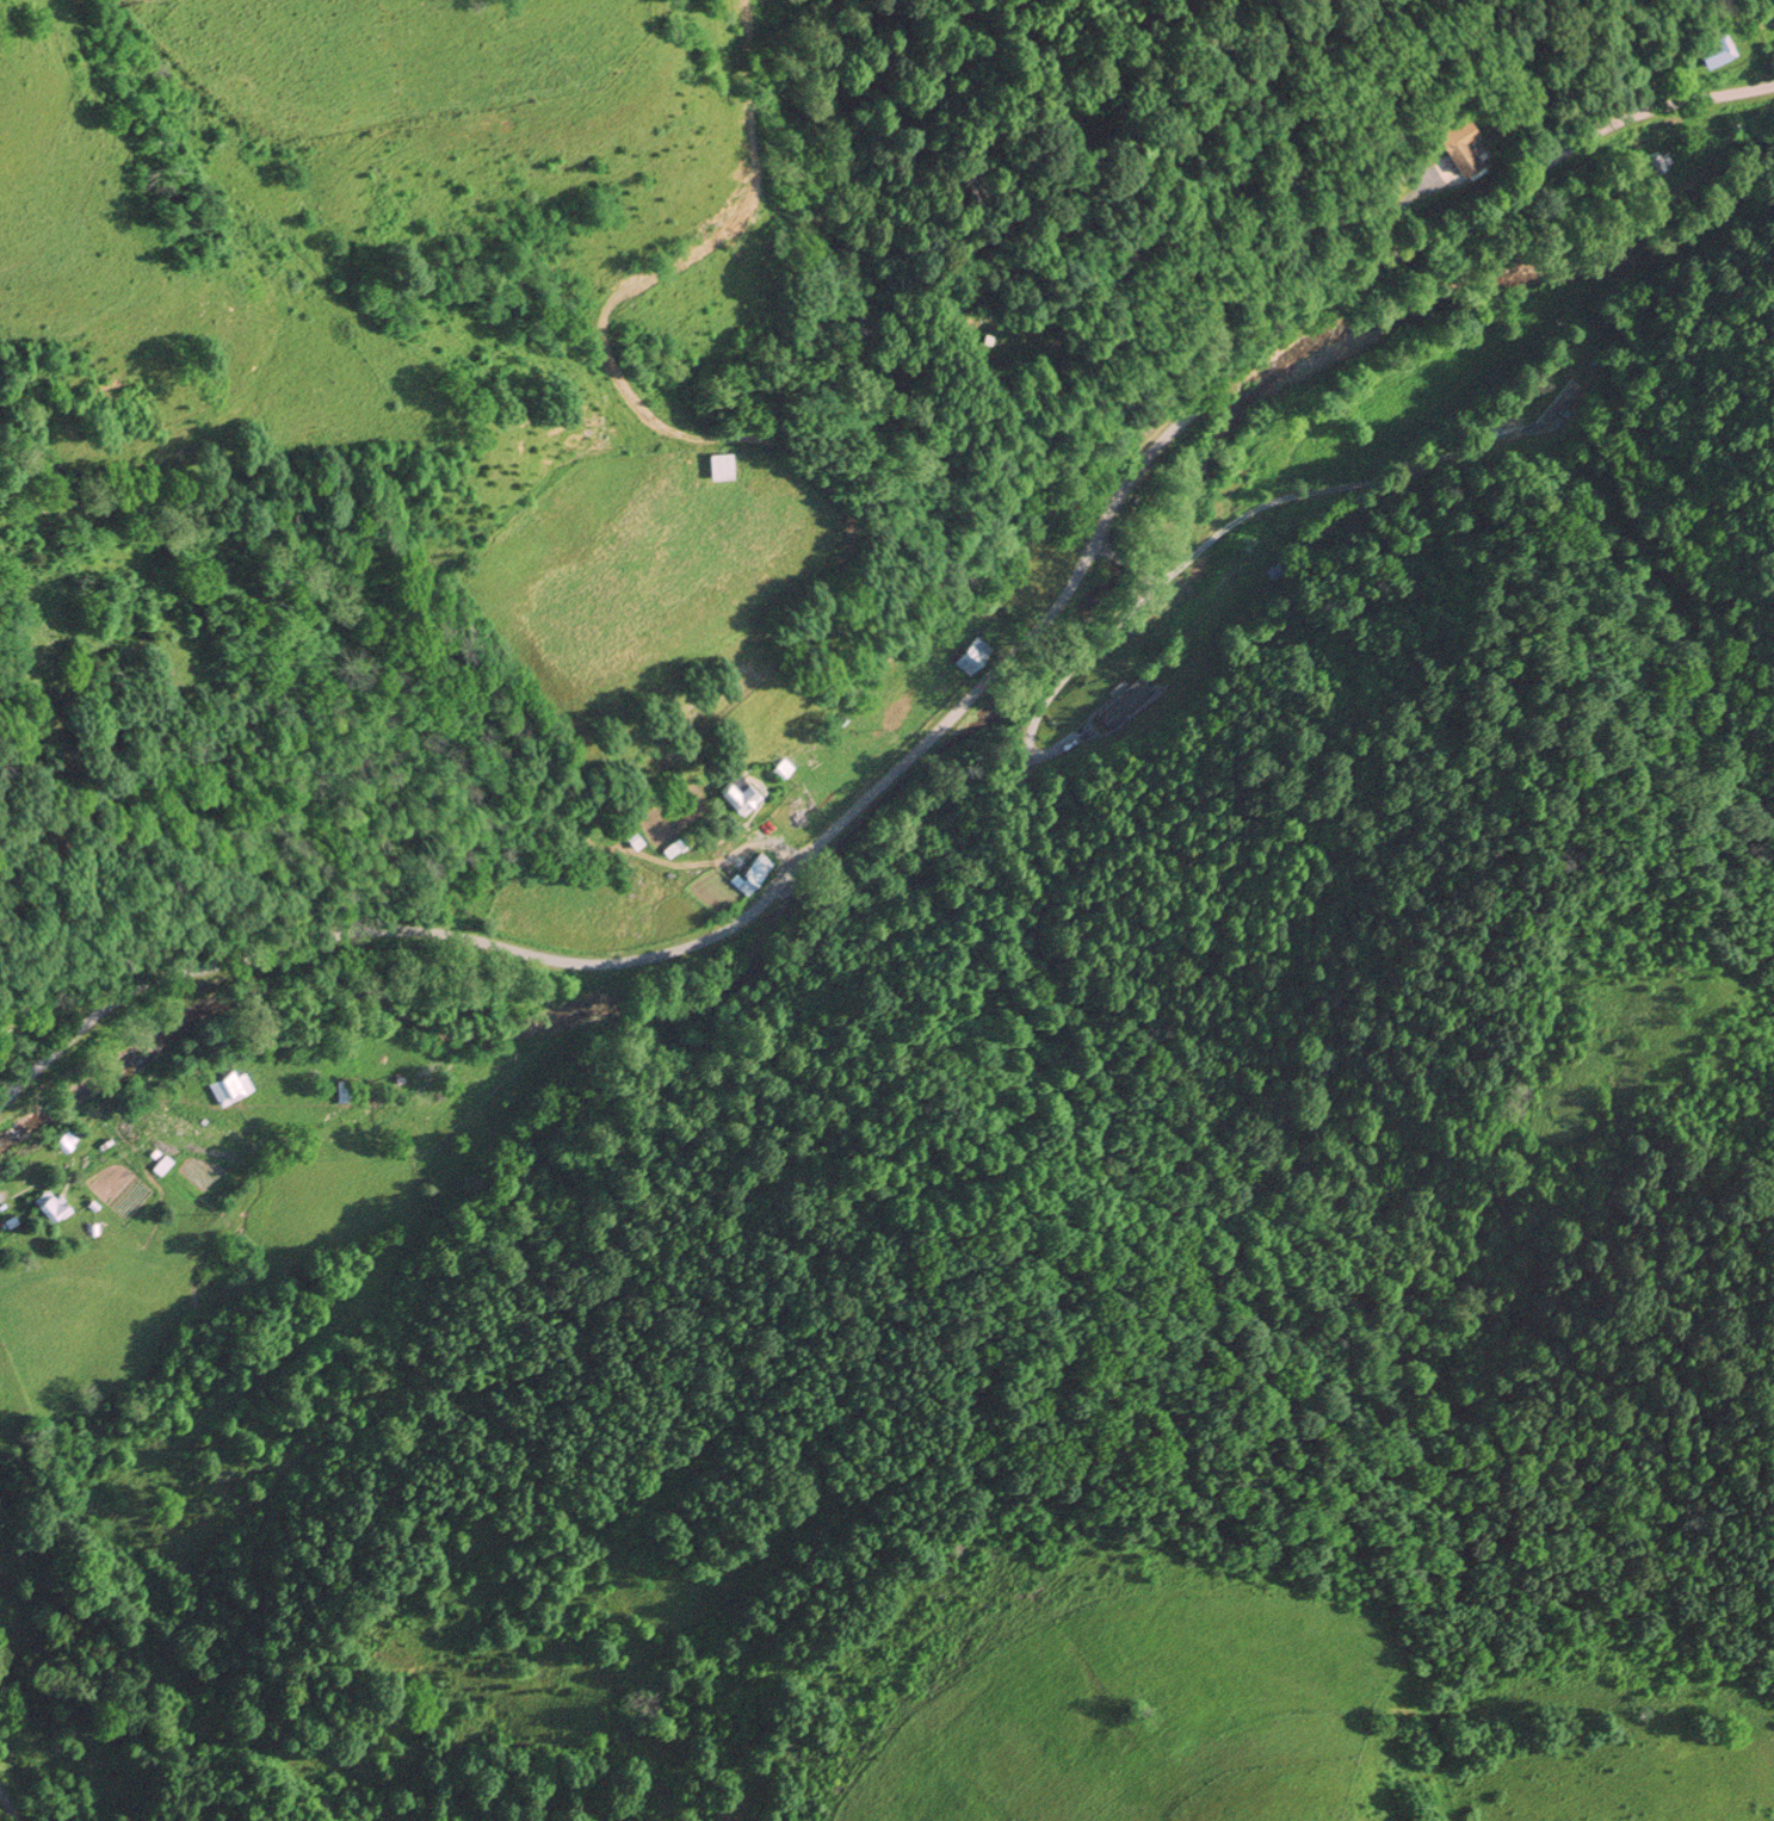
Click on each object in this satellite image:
building: (1713, 51)
building: (1454, 143)
building: (1659, 163)
road: (1382, 227)
building: (1133, 429)
building: (718, 466)
road: (1298, 497)
road: (1107, 550)
road: (1132, 564)
building: (1280, 574)
building: (972, 657)
road: (942, 730)
building: (780, 770)
building: (736, 795)
building: (629, 838)
building: (668, 849)
building: (752, 875)
building: (224, 1089)
building: (345, 1092)
building: (67, 1142)
building: (52, 1204)
building: (0, 1238)
road: (7, 1805)

